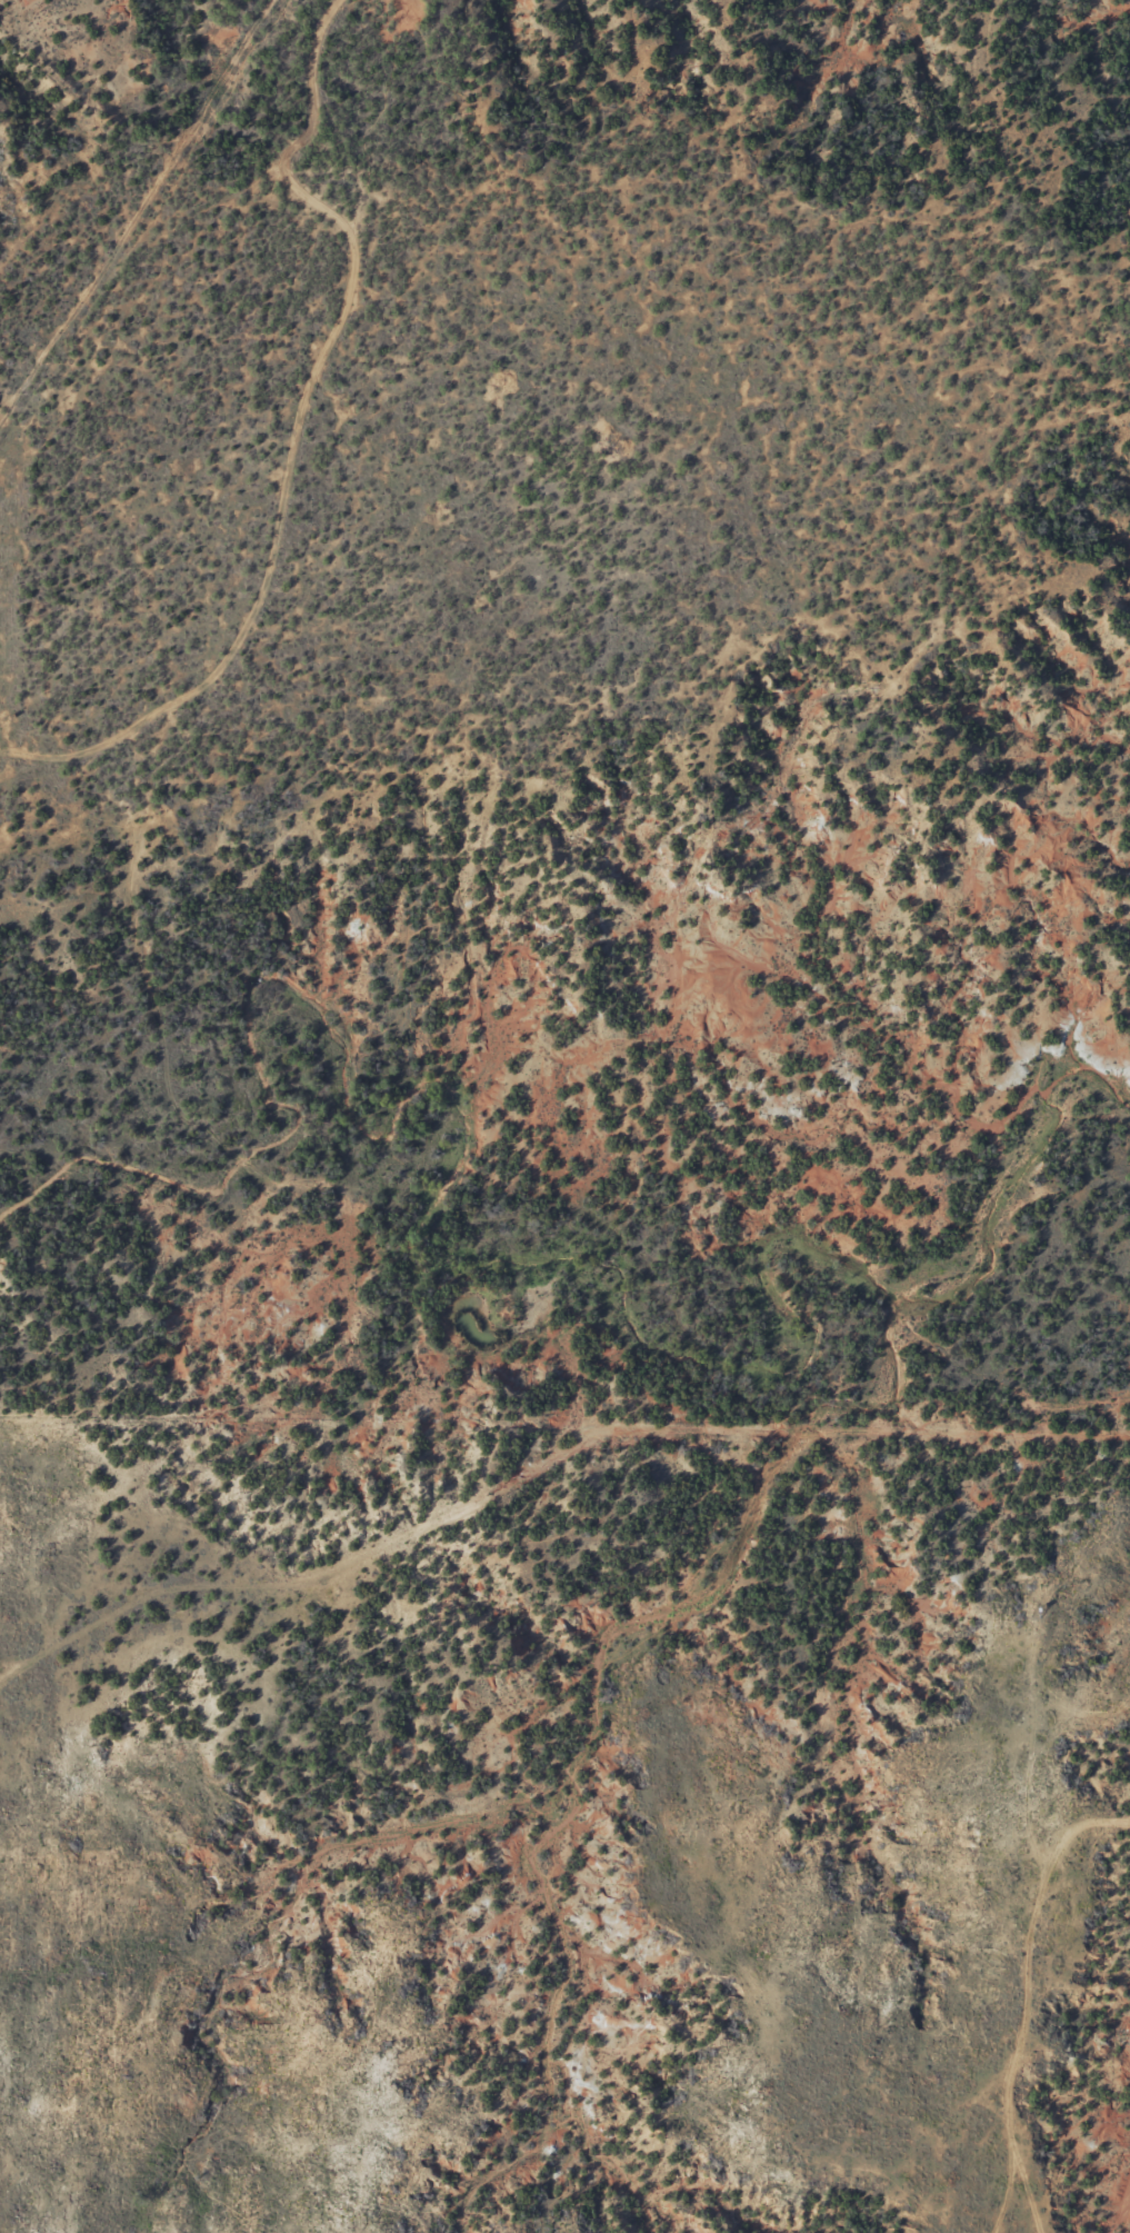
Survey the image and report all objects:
road: (63, 312)
road: (226, 380)

